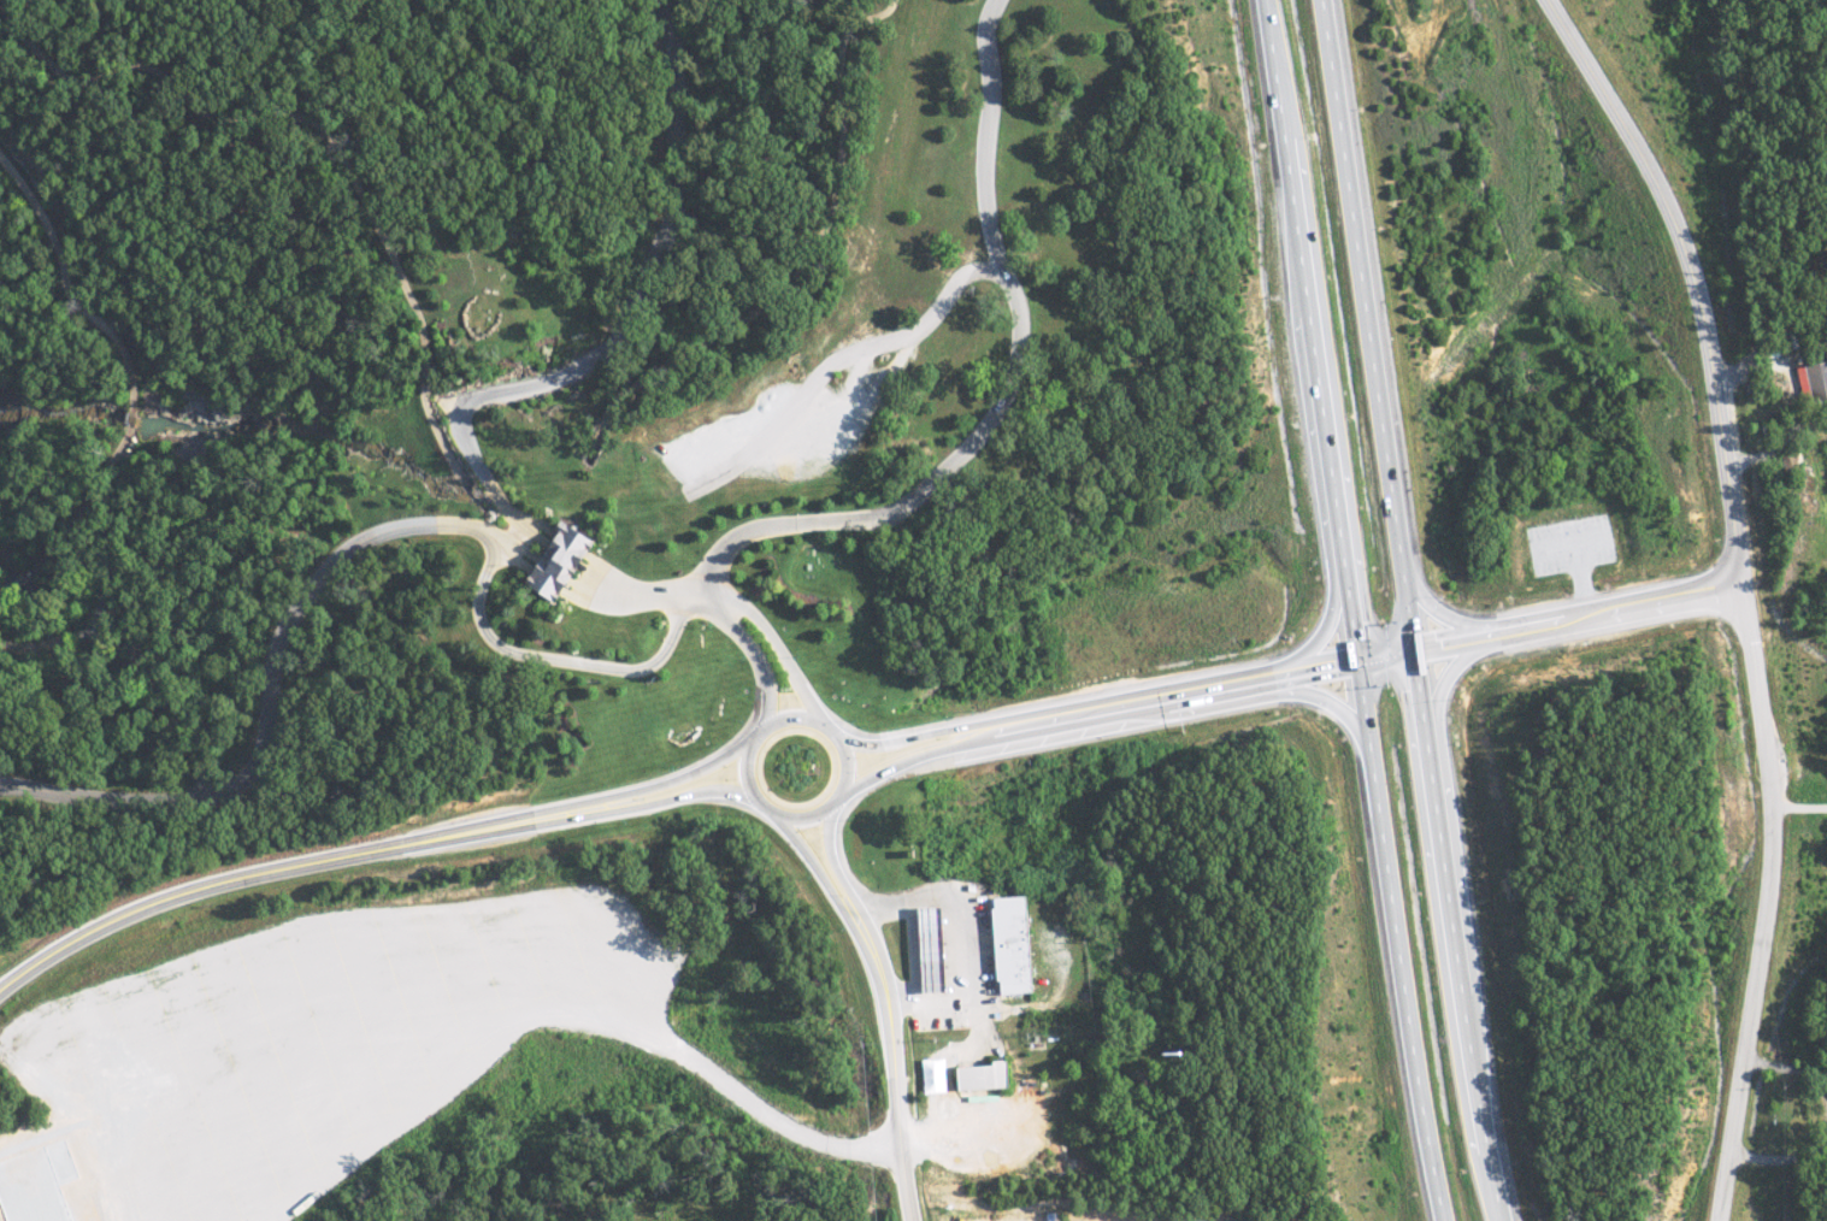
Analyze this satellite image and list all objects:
road: (332, 142)
road: (806, 266)
road: (1690, 267)
road: (58, 282)
road: (619, 328)
road: (838, 359)
building: (1814, 382)
road: (1000, 391)
road: (129, 411)
building: (1791, 464)
road: (525, 518)
road: (72, 519)
road: (567, 542)
road: (562, 554)
building: (564, 561)
road: (559, 568)
road: (613, 578)
road: (554, 582)
road: (638, 595)
road: (700, 598)
road: (1430, 606)
road: (1348, 610)
road: (1402, 610)
road: (1579, 617)
road: (1316, 632)
road: (774, 647)
traffic signals: (1408, 653)
road: (748, 659)
traffic signals: (1355, 665)
road: (1442, 686)
road: (1208, 689)
road: (261, 698)
road: (1326, 702)
road: (798, 718)
road: (919, 731)
road: (917, 754)
road: (674, 778)
road: (678, 796)
road: (1764, 804)
road: (827, 853)
road: (805, 854)
road: (288, 868)
building: (1020, 945)
building: (936, 951)
road: (891, 1054)
building: (988, 1077)
road: (1725, 1129)

